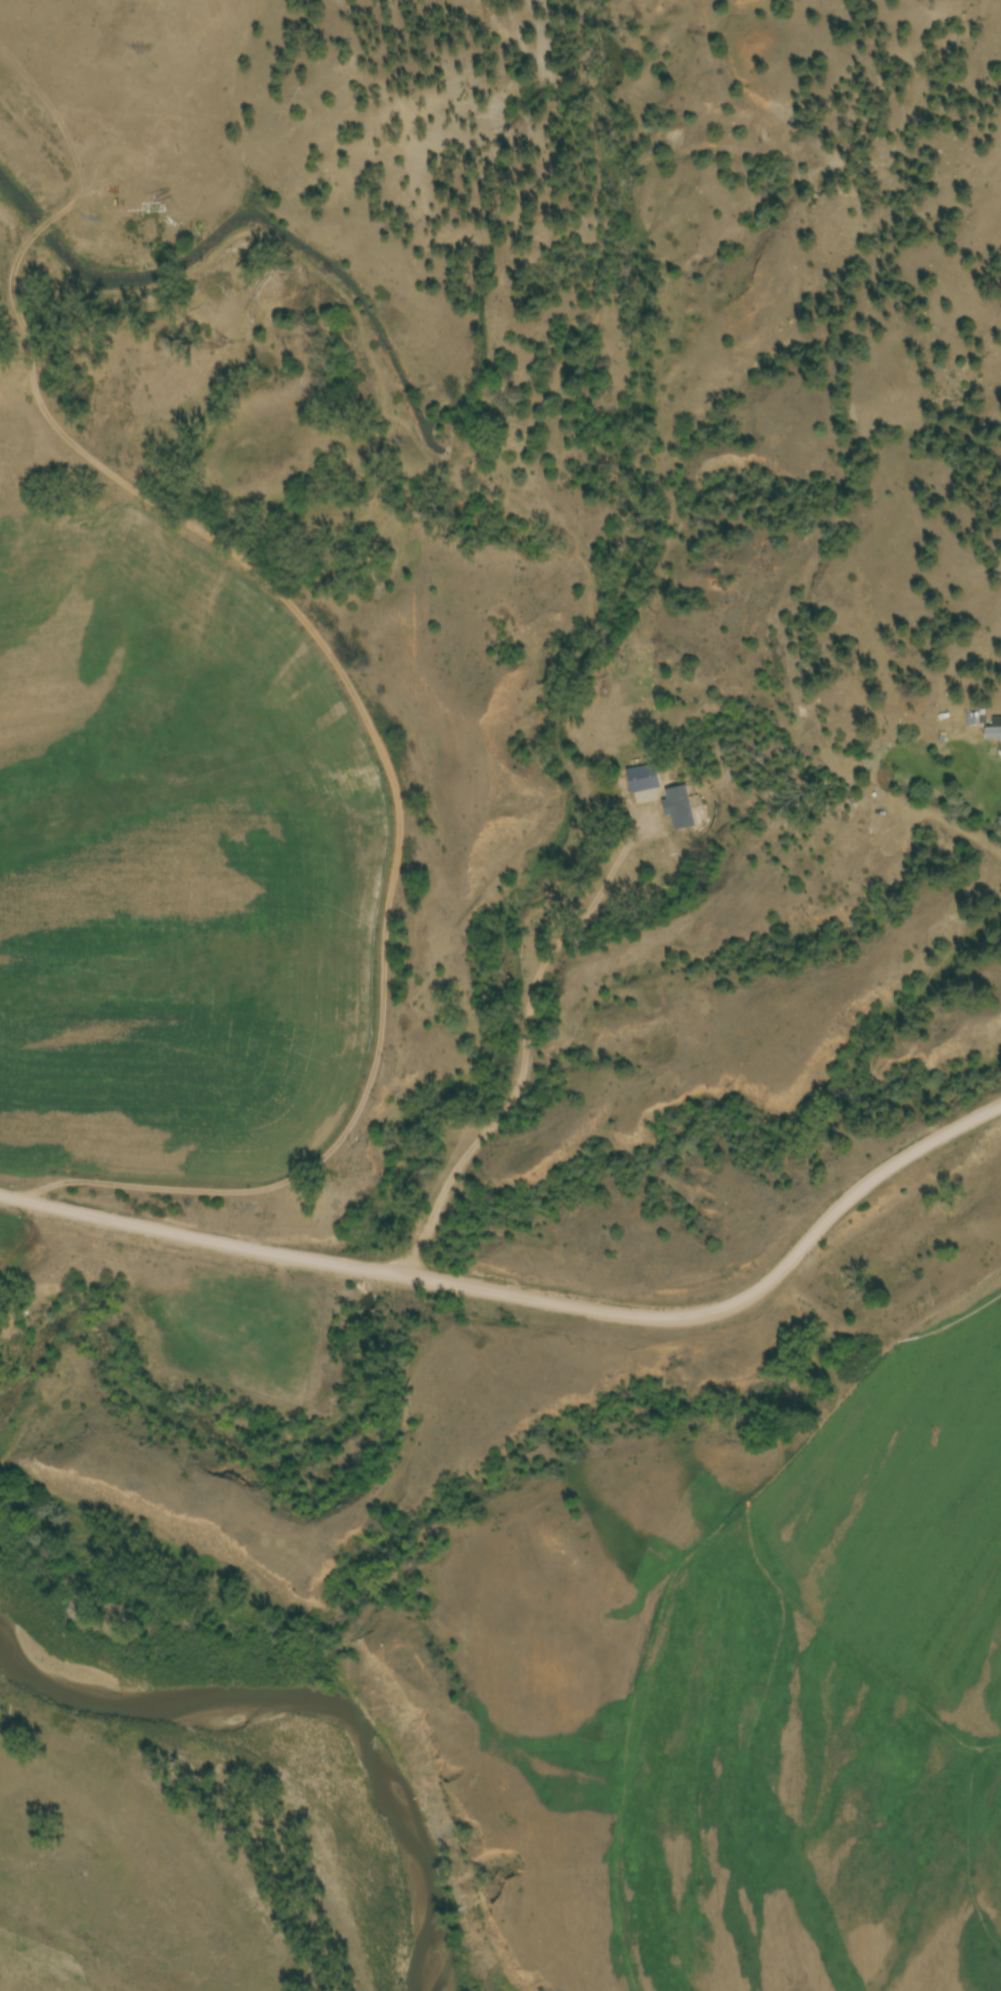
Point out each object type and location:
building: (995, 730)
building: (645, 778)
building: (680, 807)
road: (529, 1302)
river: (317, 1704)

